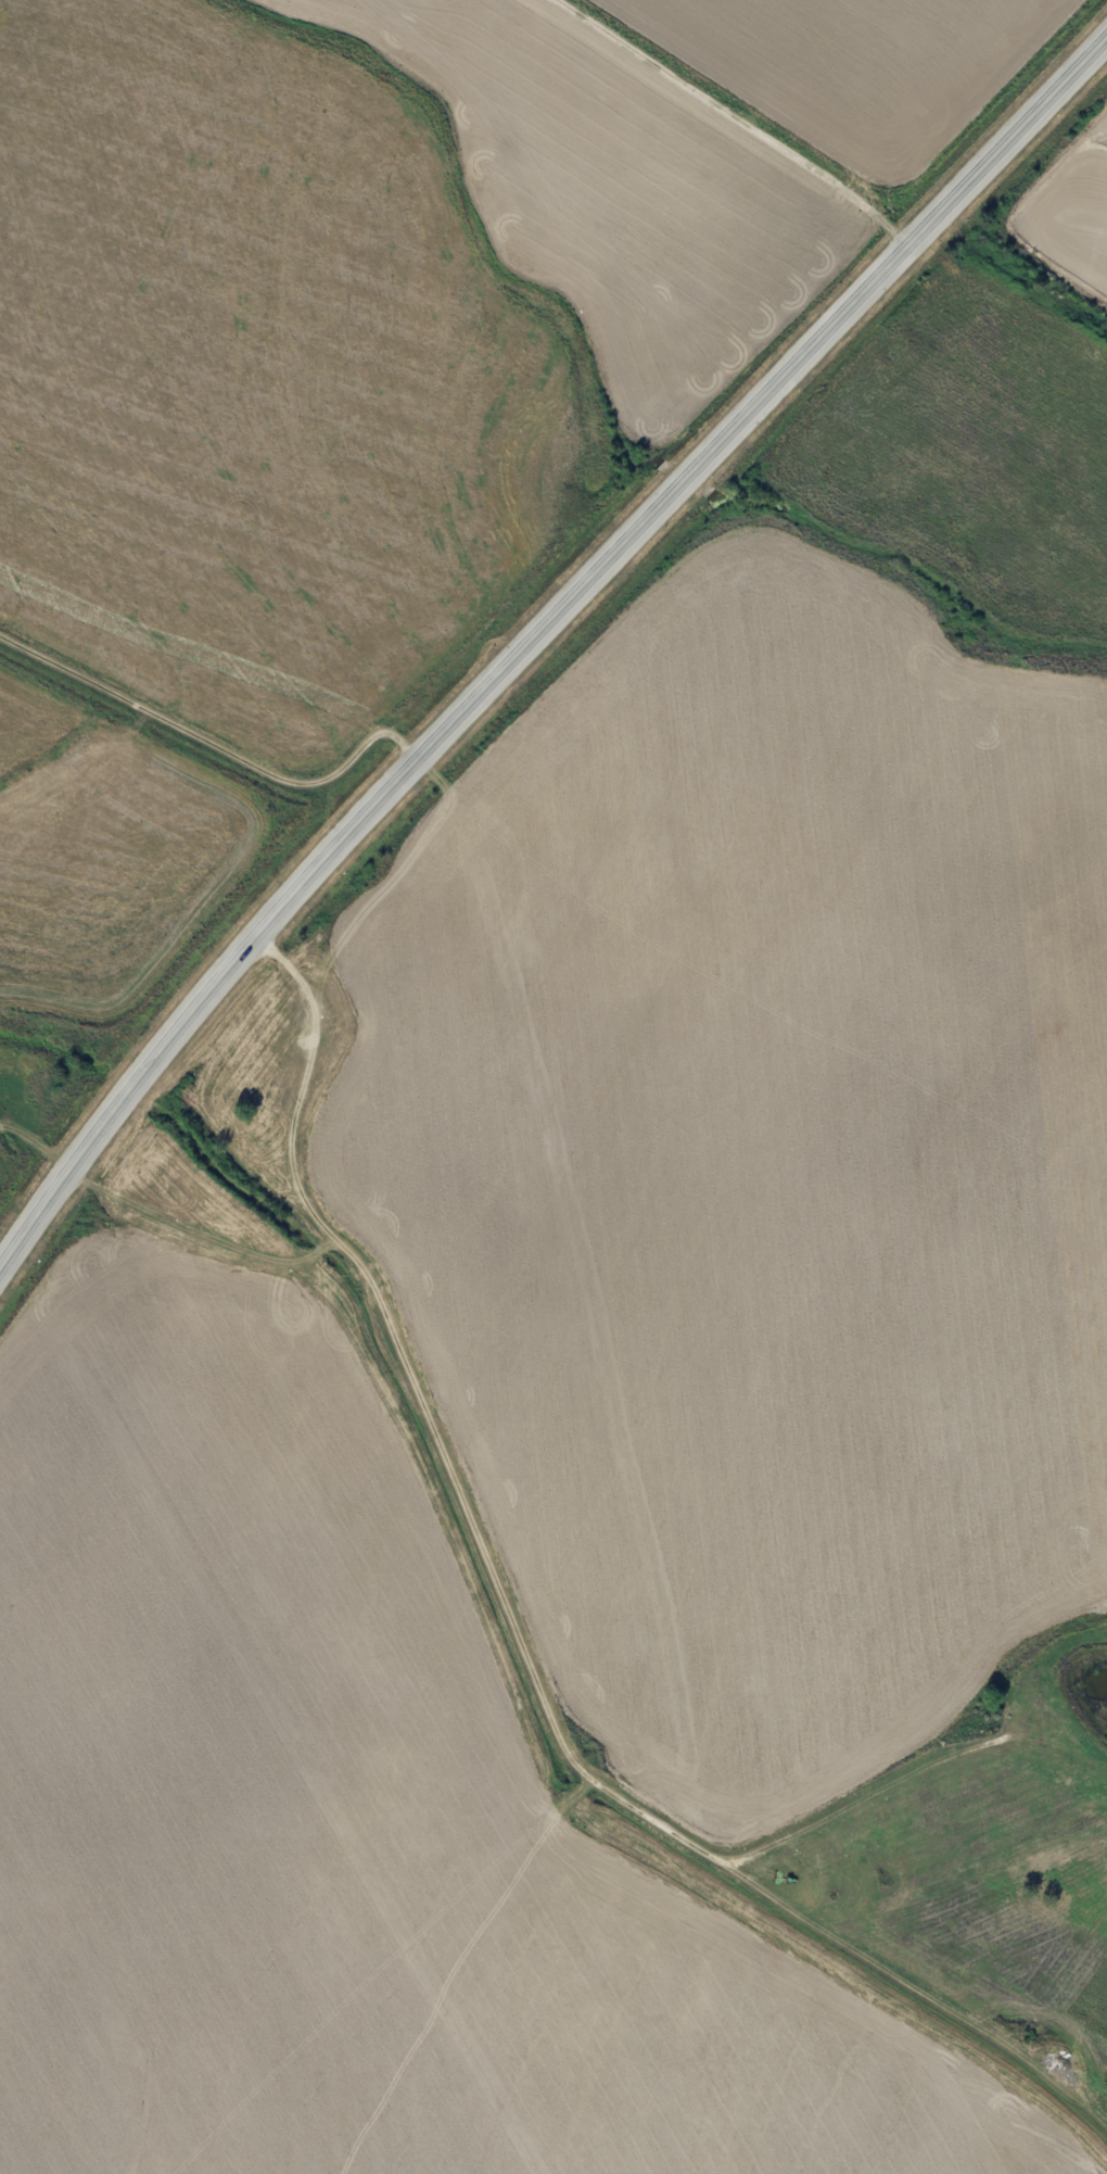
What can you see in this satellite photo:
road: (534, 642)

